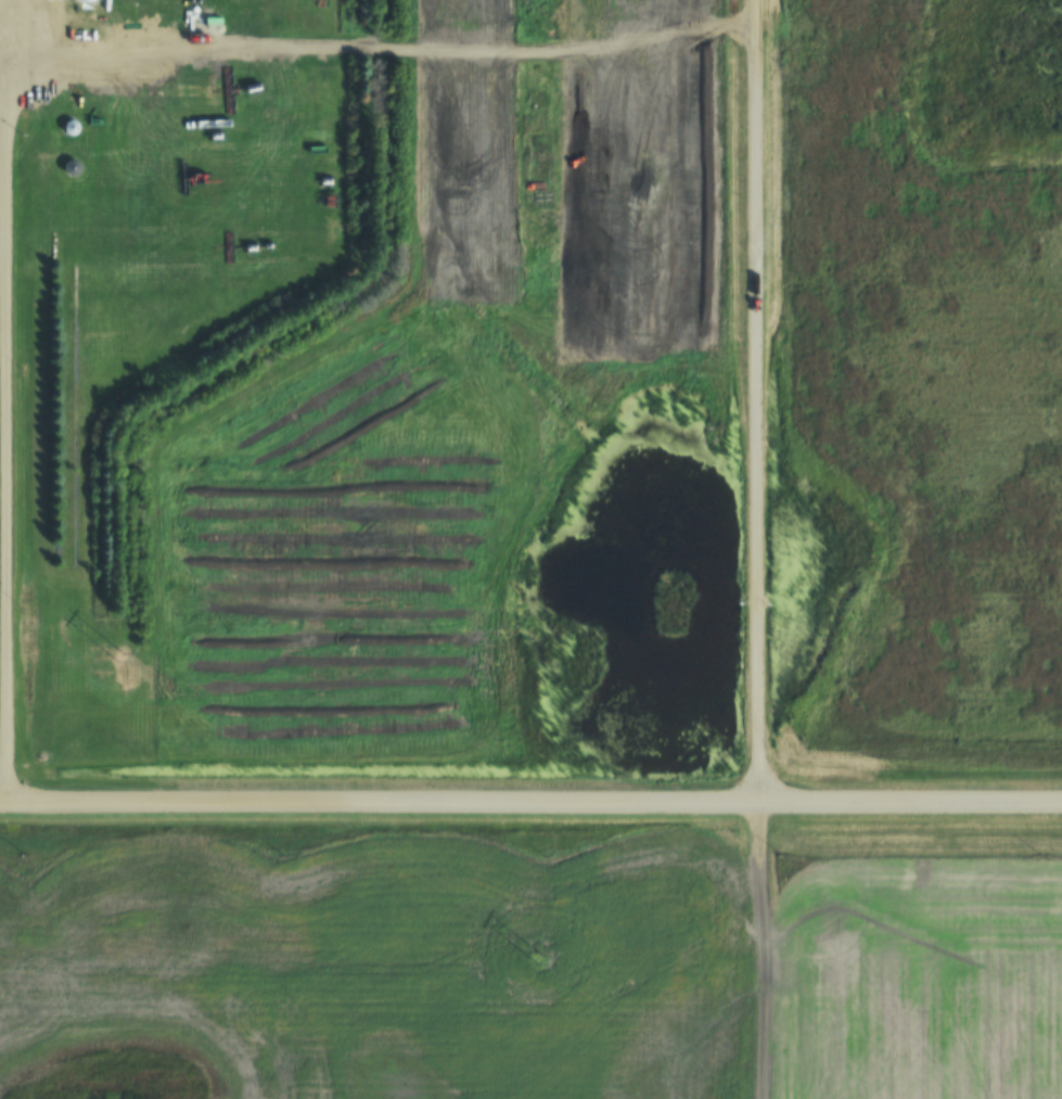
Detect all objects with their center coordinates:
building: (81, 0)
silo: (81, 0)
road: (14, 56)
building: (72, 128)
silo: (72, 128)
building: (73, 167)
silo: (73, 167)
road: (759, 404)
power tower: (114, 653)
road: (530, 807)
road: (766, 953)
power tower: (535, 968)

